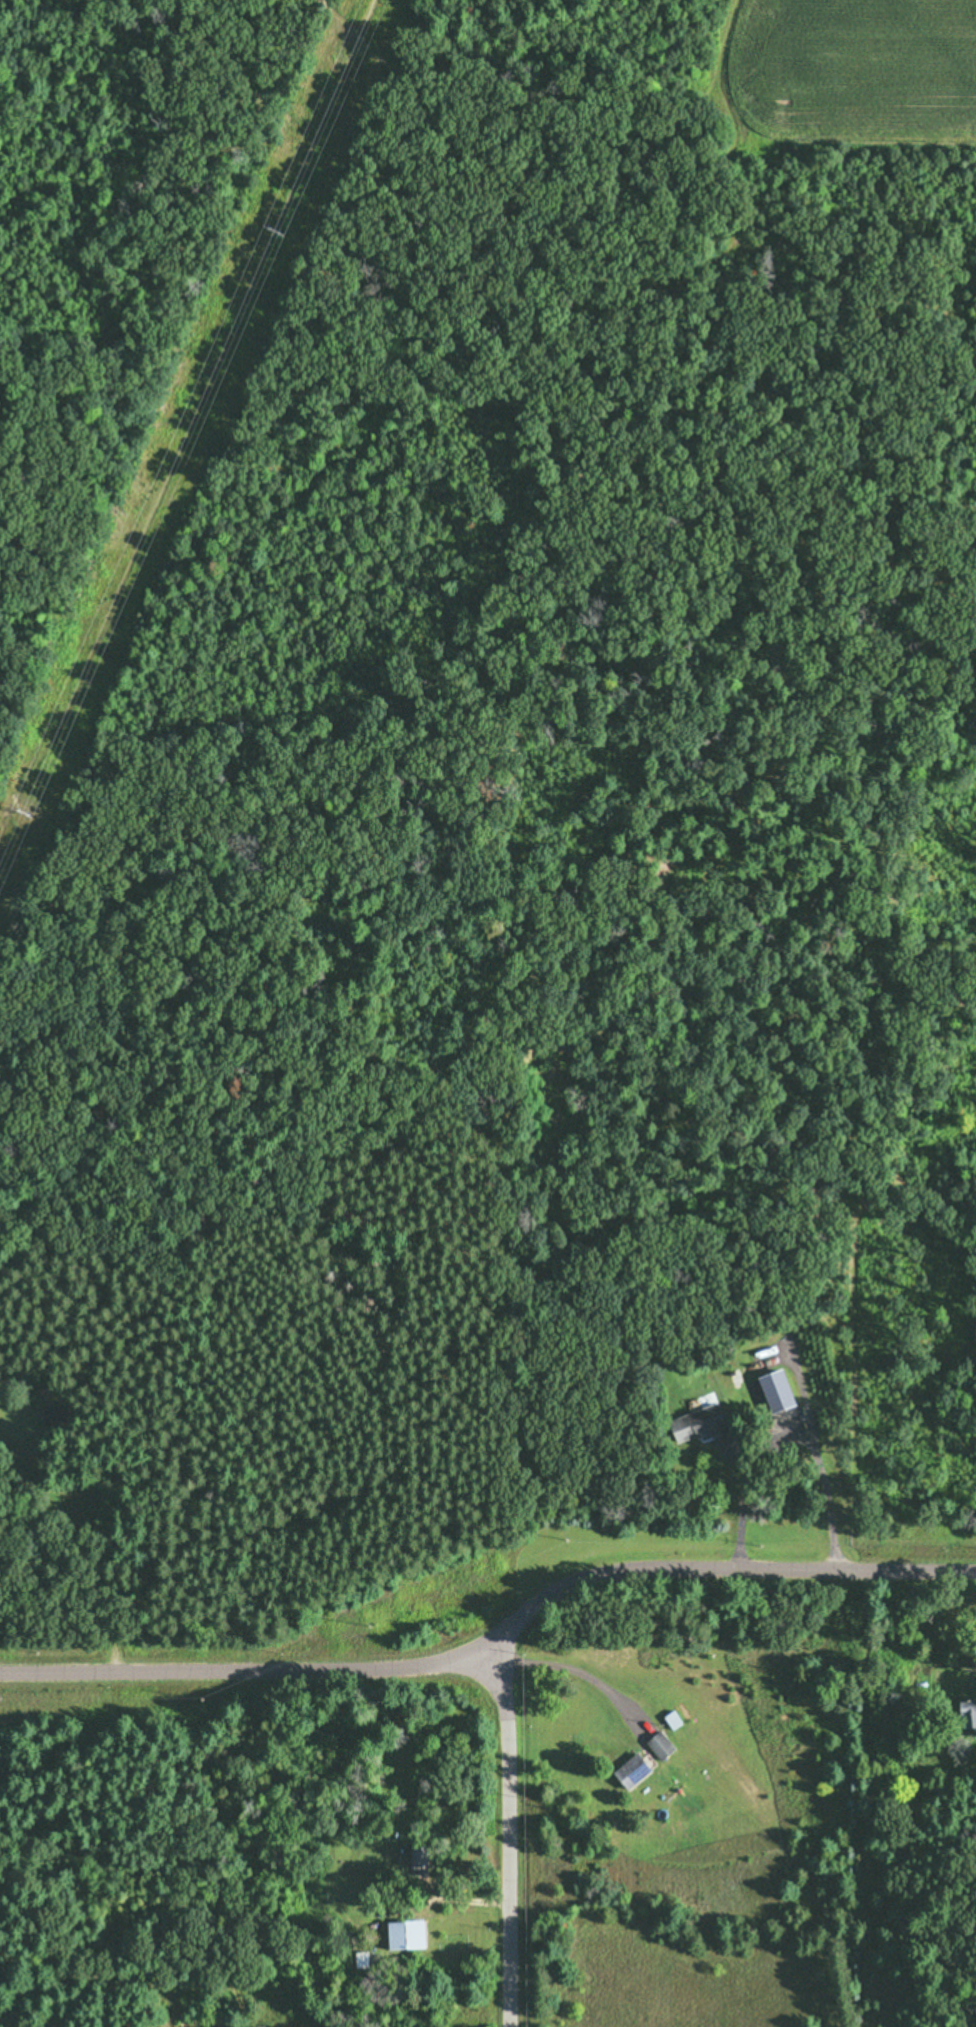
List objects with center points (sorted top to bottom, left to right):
power tower: (276, 227)
power tower: (22, 809)
building: (774, 1389)
building: (694, 1423)
road: (740, 1496)
road: (826, 1499)
road: (496, 1643)
building: (936, 1679)
building: (658, 1744)
building: (629, 1770)
road: (509, 1840)
building: (415, 1861)
road: (463, 1898)
building: (402, 1933)

